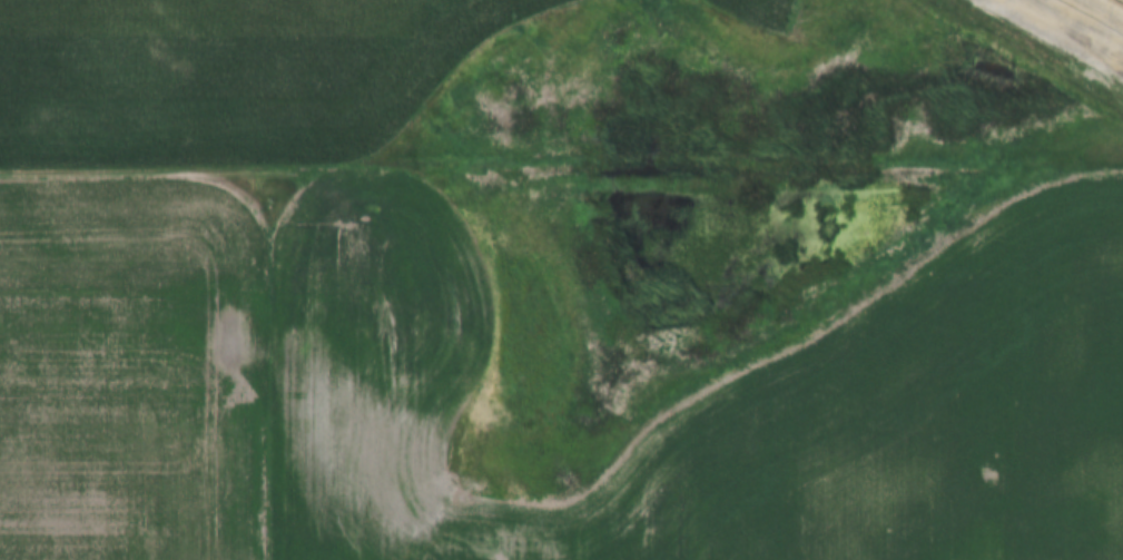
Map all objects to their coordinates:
road: (561, 186)

